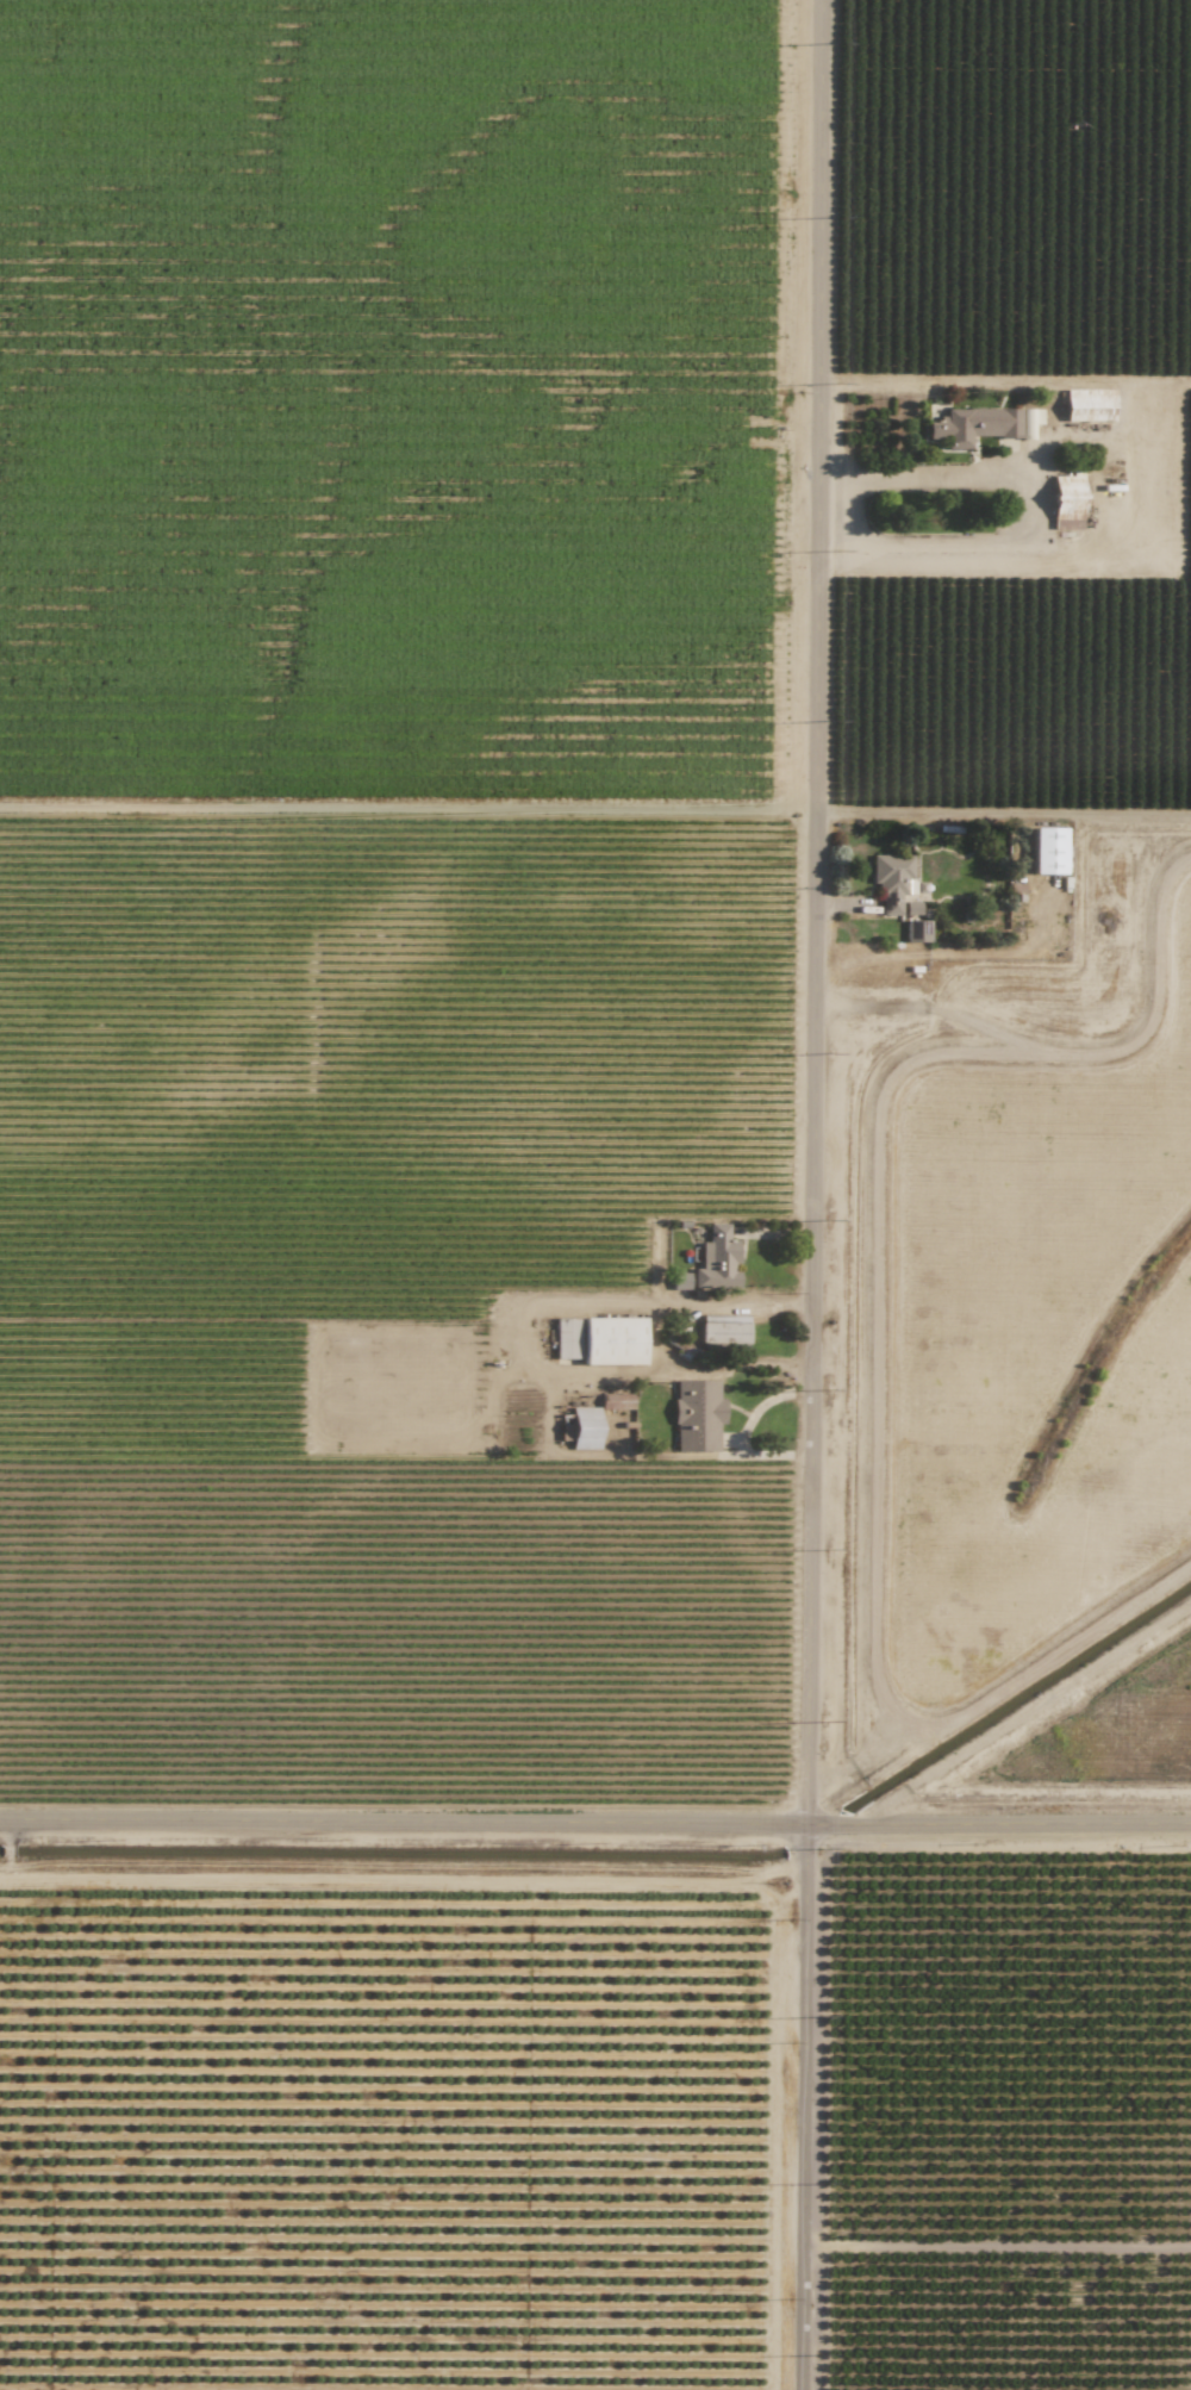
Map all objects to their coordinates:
building: (1087, 405)
building: (973, 425)
building: (1065, 502)
road: (1018, 510)
road: (407, 809)
building: (1046, 851)
building: (890, 879)
building: (916, 931)
road: (811, 1194)
building: (716, 1261)
building: (678, 1281)
building: (723, 1328)
road: (649, 1334)
building: (566, 1338)
building: (612, 1340)
building: (615, 1400)
building: (696, 1415)
building: (584, 1427)
road: (595, 1820)
road: (998, 2245)

